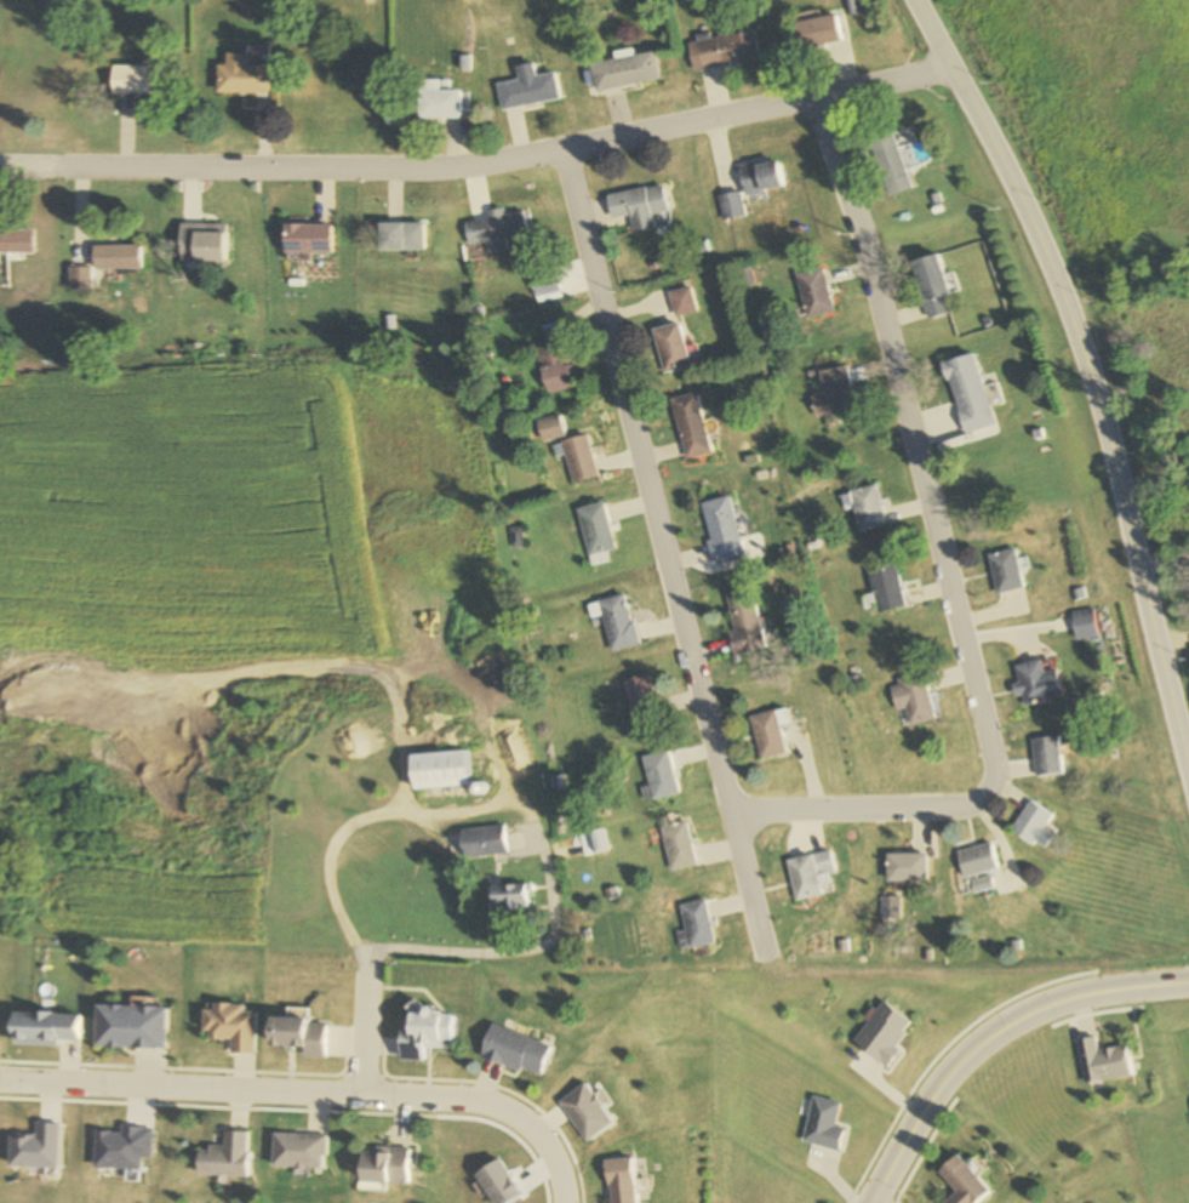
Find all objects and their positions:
building: (819, 32)
building: (728, 46)
building: (623, 72)
building: (241, 75)
building: (133, 80)
building: (527, 89)
building: (436, 102)
road: (480, 164)
building: (891, 164)
building: (761, 177)
building: (639, 206)
building: (731, 206)
building: (493, 230)
building: (401, 236)
building: (307, 239)
building: (18, 241)
building: (201, 244)
building: (107, 266)
building: (543, 281)
building: (932, 286)
building: (814, 293)
building: (684, 302)
building: (671, 348)
building: (554, 367)
road: (1088, 374)
building: (966, 384)
building: (836, 394)
building: (691, 426)
building: (550, 428)
building: (578, 458)
building: (867, 508)
crop: (182, 514)
building: (722, 530)
building: (594, 532)
road: (663, 547)
building: (1006, 571)
road: (944, 572)
building: (887, 588)
building: (617, 623)
building: (745, 623)
building: (1085, 625)
road: (1172, 639)
building: (1037, 684)
building: (639, 700)
building: (911, 700)
building: (768, 735)
building: (1048, 757)
building: (440, 770)
building: (657, 777)
road: (515, 806)
building: (1035, 826)
building: (482, 842)
building: (676, 846)
building: (978, 860)
building: (907, 867)
building: (812, 874)
building: (509, 897)
building: (694, 925)
road: (359, 1022)
building: (230, 1027)
building: (131, 1028)
building: (46, 1030)
building: (424, 1033)
building: (298, 1036)
road: (1001, 1049)
building: (514, 1051)
building: (1103, 1064)
road: (314, 1090)
building: (585, 1113)
building: (822, 1125)
building: (297, 1151)
building: (223, 1157)
building: (382, 1165)
building: (621, 1181)
building: (962, 1184)

